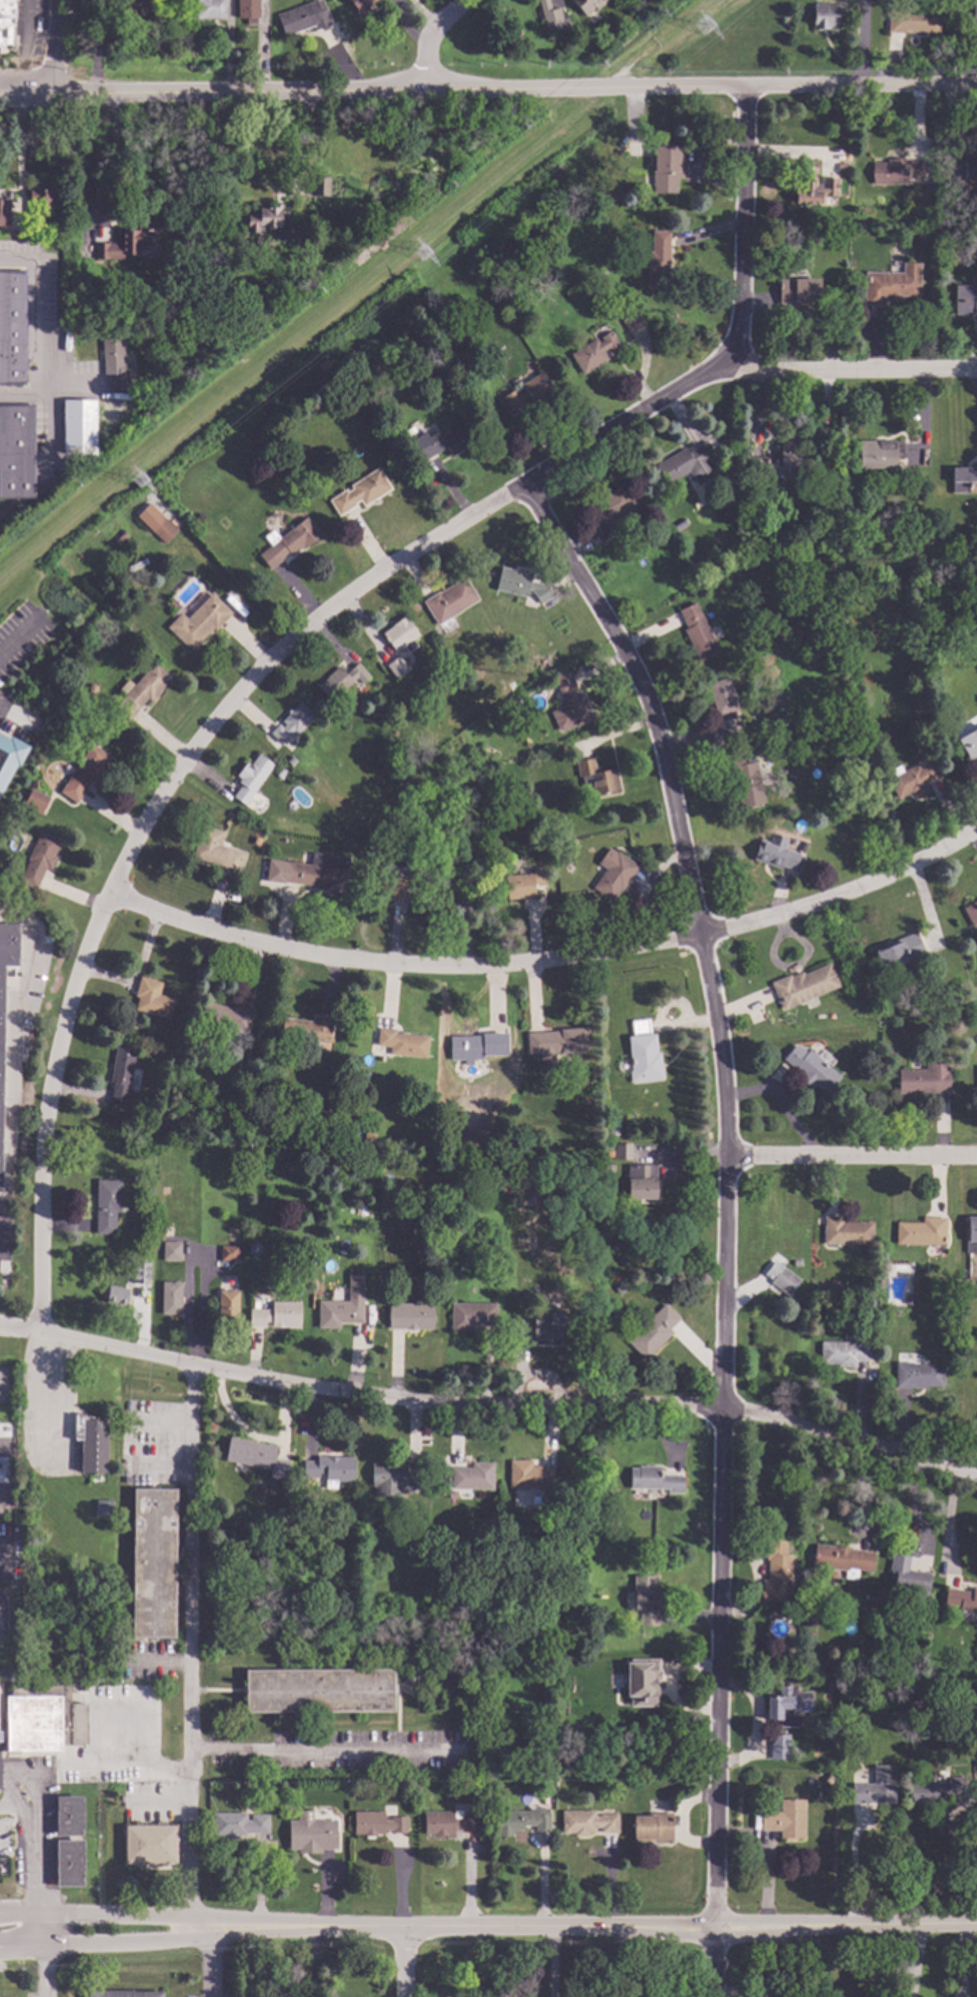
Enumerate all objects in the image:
building: (585, 5)
building: (360, 6)
building: (133, 9)
building: (210, 9)
building: (248, 10)
building: (973, 13)
building: (550, 15)
building: (825, 15)
building: (302, 17)
building: (912, 20)
building: (6, 22)
power tower: (706, 24)
road: (428, 35)
road: (861, 42)
road: (49, 46)
road: (488, 86)
road: (314, 139)
building: (841, 165)
building: (666, 166)
building: (963, 166)
road: (108, 167)
building: (896, 171)
building: (320, 185)
building: (813, 185)
building: (542, 196)
building: (41, 200)
building: (919, 203)
building: (4, 221)
building: (268, 221)
road: (741, 223)
building: (815, 240)
building: (124, 243)
power tower: (426, 254)
building: (658, 259)
building: (891, 283)
building: (797, 291)
building: (965, 299)
building: (80, 309)
building: (630, 319)
building: (12, 327)
road: (52, 339)
building: (593, 352)
building: (114, 362)
building: (323, 364)
road: (847, 370)
road: (976, 380)
road: (46, 390)
building: (529, 390)
building: (745, 391)
road: (755, 400)
road: (681, 417)
road: (923, 418)
building: (417, 425)
building: (78, 426)
road: (820, 428)
building: (104, 434)
building: (443, 441)
building: (16, 451)
building: (879, 453)
building: (781, 461)
building: (688, 463)
building: (964, 479)
power tower: (144, 481)
building: (360, 491)
building: (610, 510)
building: (149, 512)
building: (196, 524)
building: (679, 524)
building: (163, 529)
building: (287, 541)
building: (920, 542)
building: (754, 546)
building: (974, 556)
building: (520, 583)
road: (368, 585)
building: (449, 600)
building: (198, 621)
building: (697, 632)
road: (14, 634)
building: (401, 634)
building: (575, 661)
building: (397, 666)
building: (914, 672)
building: (341, 679)
building: (512, 686)
building: (92, 688)
building: (140, 690)
building: (49, 694)
building: (515, 701)
building: (916, 701)
building: (570, 703)
building: (725, 705)
building: (292, 722)
building: (969, 743)
building: (9, 755)
building: (85, 772)
building: (280, 772)
building: (596, 776)
building: (251, 777)
building: (912, 777)
building: (746, 781)
building: (35, 801)
building: (491, 817)
building: (793, 840)
building: (445, 841)
building: (802, 845)
building: (216, 849)
building: (775, 852)
building: (39, 858)
building: (315, 871)
building: (403, 873)
building: (615, 875)
building: (523, 883)
building: (389, 887)
building: (455, 890)
road: (644, 891)
building: (971, 912)
building: (898, 951)
road: (546, 967)
road: (135, 974)
building: (803, 985)
building: (152, 998)
building: (226, 1016)
building: (306, 1028)
building: (402, 1042)
building: (555, 1044)
building: (477, 1046)
road: (16, 1053)
building: (643, 1053)
building: (811, 1069)
building: (976, 1071)
building: (121, 1077)
building: (1, 1078)
building: (924, 1079)
building: (249, 1083)
road: (44, 1114)
building: (630, 1119)
building: (612, 1129)
building: (444, 1133)
building: (546, 1149)
building: (527, 1150)
building: (622, 1151)
building: (608, 1152)
road: (850, 1153)
building: (290, 1162)
building: (608, 1166)
building: (370, 1177)
building: (641, 1181)
building: (147, 1190)
building: (107, 1205)
building: (149, 1207)
road: (724, 1219)
building: (972, 1228)
building: (167, 1231)
building: (846, 1231)
building: (921, 1231)
road: (4, 1243)
building: (171, 1250)
building: (773, 1251)
building: (230, 1252)
building: (140, 1273)
building: (780, 1277)
building: (836, 1282)
building: (117, 1295)
building: (171, 1297)
building: (908, 1299)
building: (227, 1307)
building: (341, 1309)
building: (895, 1312)
building: (276, 1314)
building: (471, 1314)
building: (410, 1315)
building: (553, 1326)
building: (652, 1330)
building: (844, 1352)
building: (917, 1375)
road: (490, 1387)
building: (93, 1442)
building: (256, 1456)
building: (329, 1468)
building: (413, 1473)
building: (528, 1474)
building: (472, 1476)
building: (445, 1477)
building: (386, 1478)
building: (655, 1479)
building: (103, 1509)
road: (949, 1520)
building: (842, 1559)
building: (153, 1562)
building: (241, 1562)
building: (776, 1572)
building: (908, 1578)
building: (961, 1598)
building: (646, 1599)
building: (505, 1614)
building: (810, 1622)
road: (191, 1653)
building: (907, 1679)
building: (641, 1680)
building: (931, 1681)
building: (826, 1686)
building: (319, 1689)
building: (787, 1705)
building: (43, 1718)
building: (779, 1746)
building: (549, 1748)
building: (969, 1748)
road: (328, 1752)
road: (128, 1763)
road: (16, 1777)
building: (828, 1778)
building: (630, 1782)
building: (875, 1787)
building: (935, 1789)
road: (9, 1808)
building: (68, 1815)
building: (785, 1819)
parking lot: (31, 1820)
building: (522, 1820)
building: (450, 1821)
building: (587, 1822)
building: (377, 1823)
building: (238, 1824)
road: (22, 1827)
building: (652, 1827)
building: (311, 1833)
building: (150, 1843)
parking lot: (4, 1849)
building: (69, 1862)
road: (852, 1865)
road: (968, 1865)
road: (35, 1887)
road: (168, 1916)
road: (656, 1927)
road: (168, 1941)
road: (213, 1957)
road: (313, 1957)
road: (403, 1962)
road: (551, 1962)
building: (122, 1993)

